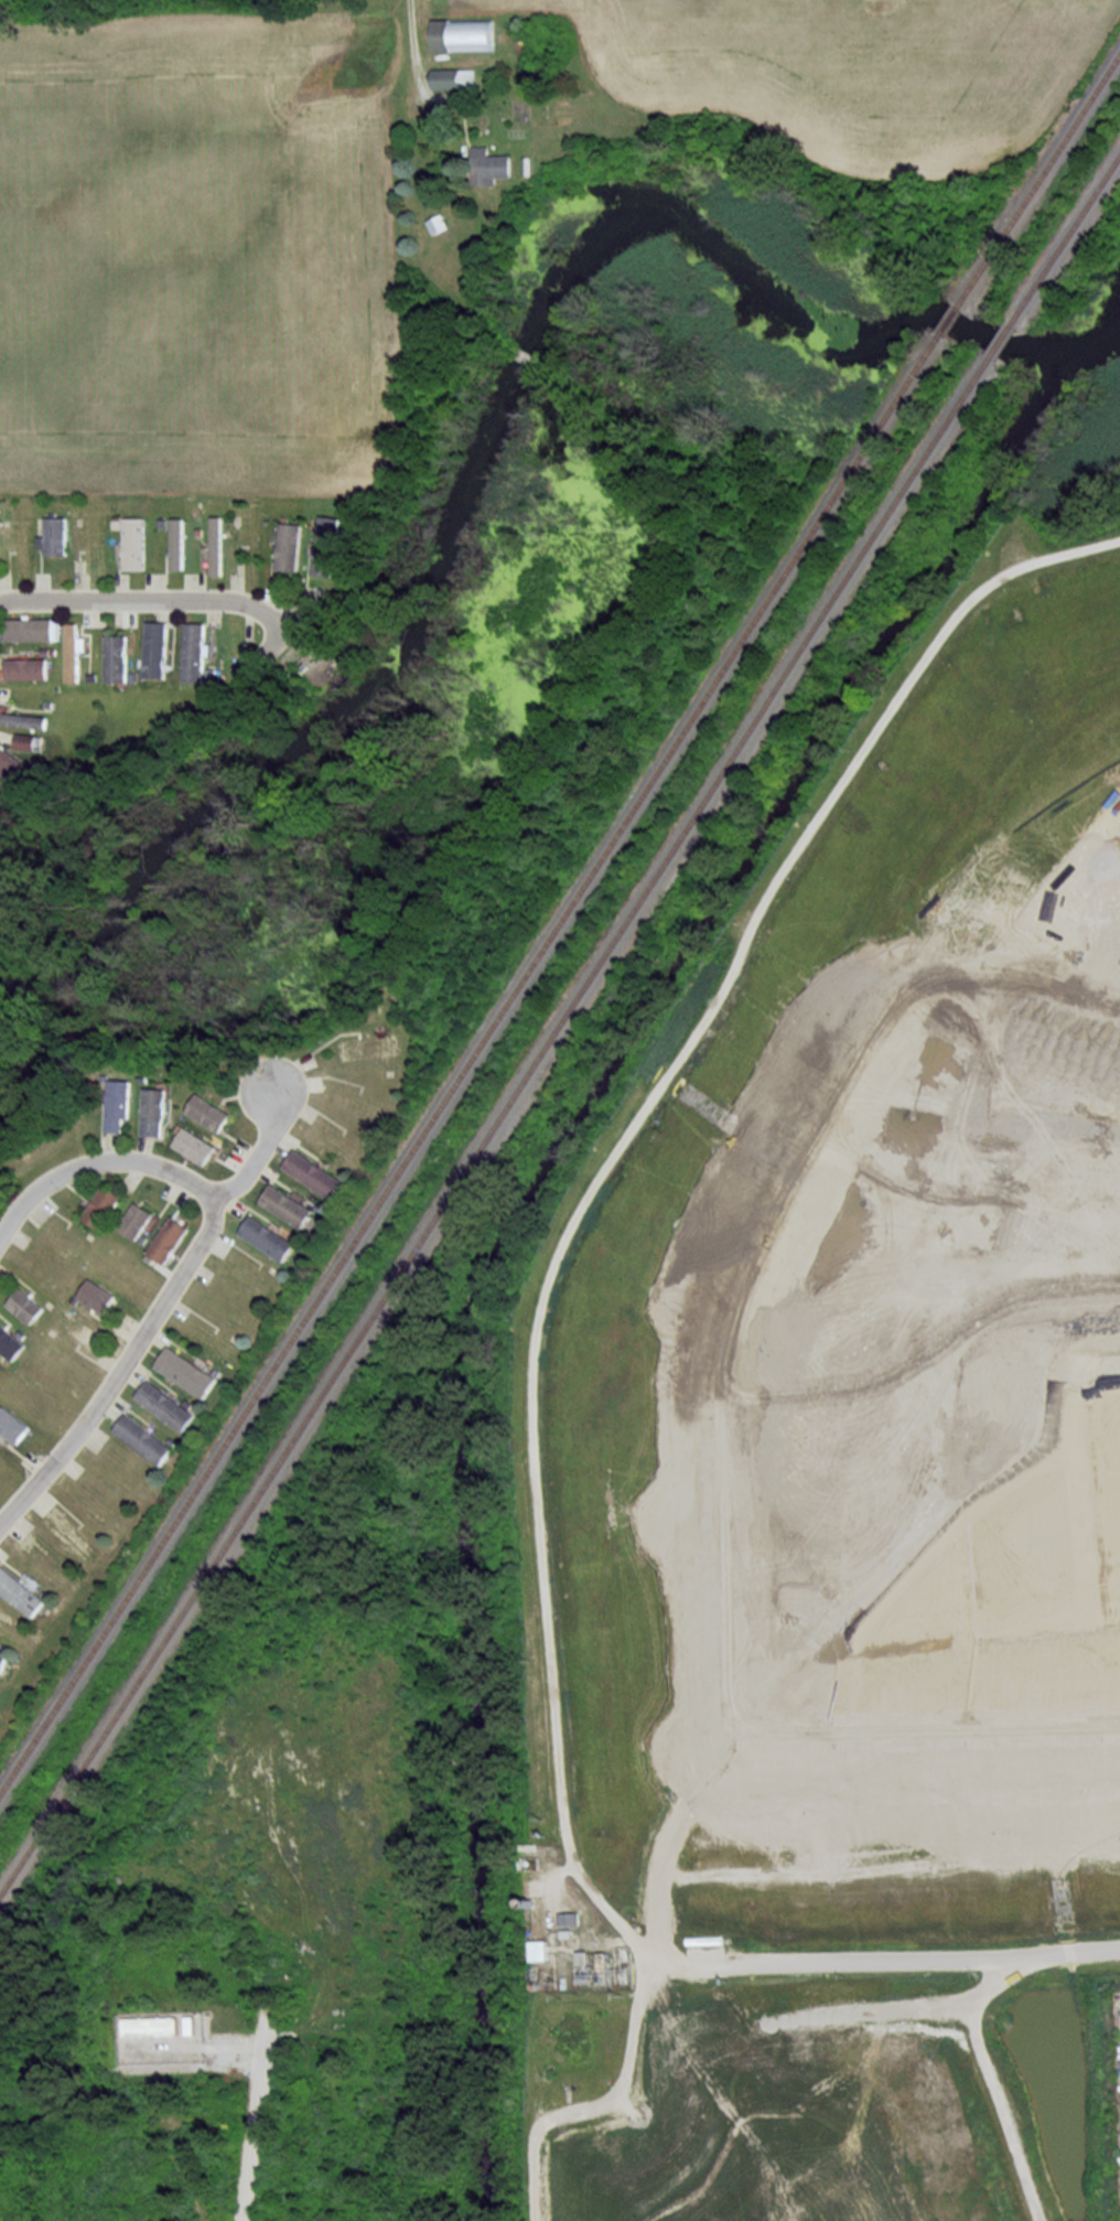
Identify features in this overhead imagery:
building: (463, 34)
road: (414, 46)
crop: (818, 65)
building: (454, 78)
building: (489, 165)
railway: (1040, 180)
building: (438, 223)
railway: (1066, 242)
crop: (203, 257)
railway: (950, 320)
railway: (1002, 341)
building: (54, 536)
building: (133, 543)
building: (176, 544)
building: (216, 545)
building: (290, 546)
building: (327, 546)
road: (149, 599)
building: (28, 629)
building: (154, 650)
building: (72, 651)
building: (193, 652)
building: (115, 657)
building: (25, 668)
building: (23, 720)
building: (29, 741)
building: (11, 765)
building: (380, 1027)
building: (369, 1044)
railway: (470, 1064)
building: (194, 1073)
building: (104, 1075)
building: (142, 1077)
building: (117, 1102)
building: (153, 1108)
building: (208, 1110)
railway: (495, 1125)
building: (179, 1126)
building: (195, 1144)
road: (261, 1154)
road: (95, 1161)
building: (315, 1172)
building: (343, 1172)
building: (103, 1204)
building: (289, 1204)
building: (321, 1205)
building: (117, 1212)
building: (137, 1219)
building: (297, 1235)
building: (269, 1236)
building: (144, 1237)
building: (170, 1237)
building: (150, 1257)
building: (98, 1294)
building: (75, 1297)
building: (26, 1303)
building: (22, 1332)
building: (10, 1341)
road: (123, 1366)
building: (187, 1370)
building: (217, 1370)
road: (534, 1382)
building: (189, 1402)
building: (166, 1403)
building: (12, 1424)
building: (143, 1438)
building: (172, 1440)
landfill: (850, 1495)
building: (19, 1591)
building: (44, 1592)
road: (850, 1603)
building: (4, 1645)
building: (2, 1657)
building: (570, 1918)
building: (540, 1950)
building: (149, 2026)
parking lot: (1117, 2068)
road: (987, 2084)
road: (603, 2103)
road: (256, 2112)

